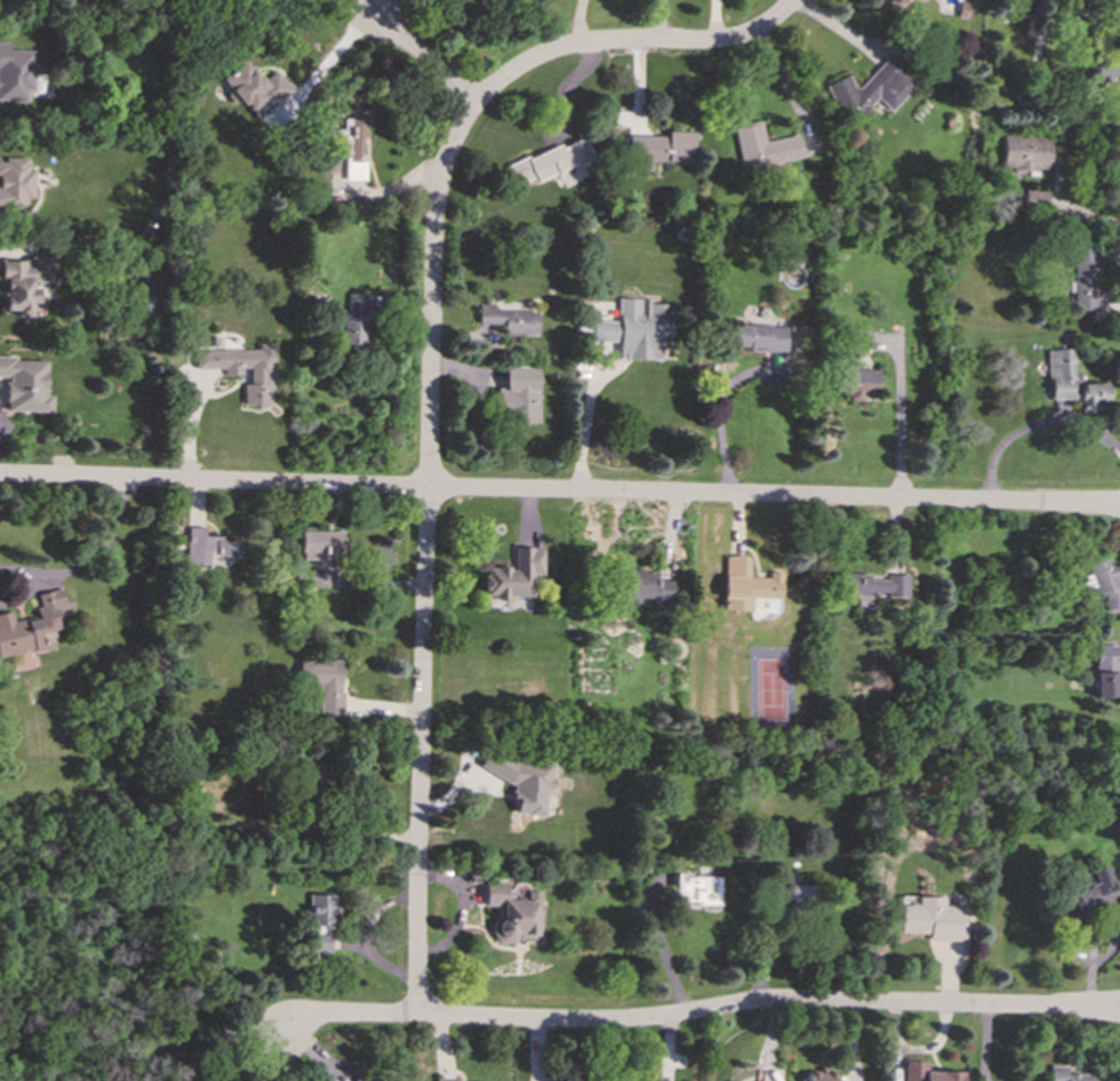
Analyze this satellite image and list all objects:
road: (660, 0)
building: (896, 1)
road: (372, 7)
road: (351, 9)
road: (660, 21)
road: (577, 22)
road: (1037, 50)
road: (332, 56)
road: (424, 58)
building: (17, 73)
building: (870, 87)
building: (255, 90)
building: (350, 143)
building: (762, 146)
building: (658, 148)
building: (1025, 152)
building: (548, 161)
building: (14, 183)
building: (1085, 276)
building: (24, 281)
building: (508, 319)
building: (355, 321)
building: (635, 328)
building: (759, 337)
building: (861, 340)
building: (260, 372)
road: (430, 381)
building: (856, 381)
building: (1071, 381)
building: (25, 383)
building: (517, 394)
road: (722, 415)
road: (901, 419)
road: (586, 424)
road: (559, 491)
building: (319, 544)
building: (206, 546)
road: (89, 562)
building: (514, 574)
building: (1103, 581)
building: (747, 584)
building: (875, 586)
building: (646, 589)
building: (33, 625)
building: (1107, 671)
building: (323, 681)
building: (317, 776)
building: (522, 781)
building: (699, 889)
building: (794, 889)
building: (1095, 892)
building: (514, 913)
building: (933, 918)
building: (321, 922)
road: (665, 946)
road: (706, 1011)
road: (985, 1043)
building: (926, 1072)
building: (1070, 1074)
building: (821, 1075)
building: (358, 1080)
building: (446, 1080)

